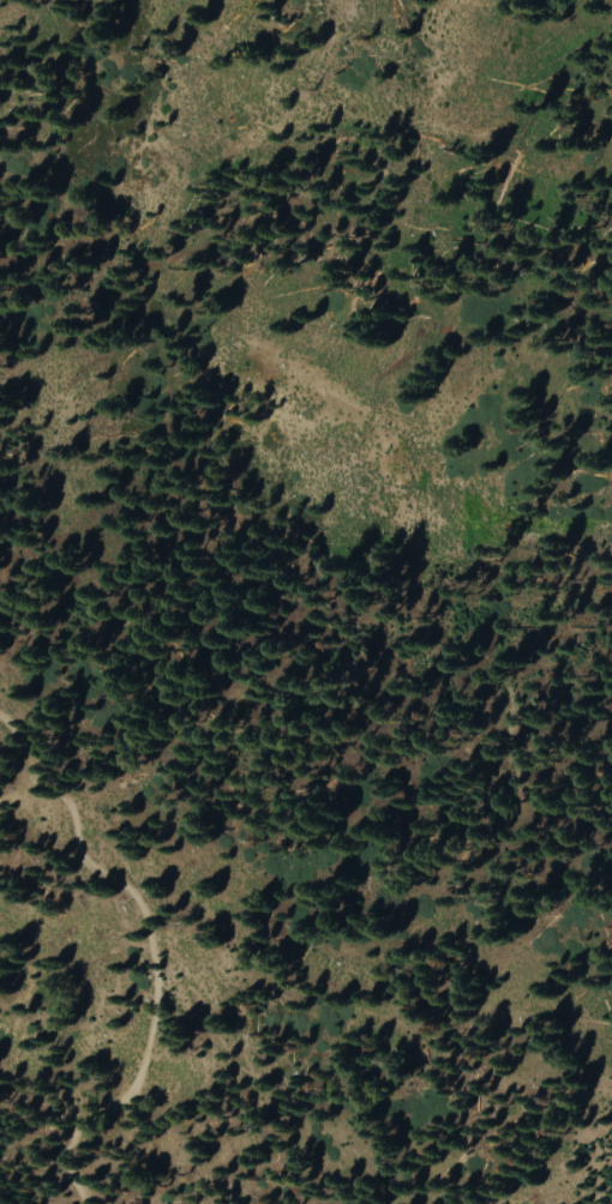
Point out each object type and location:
road: (151, 951)

